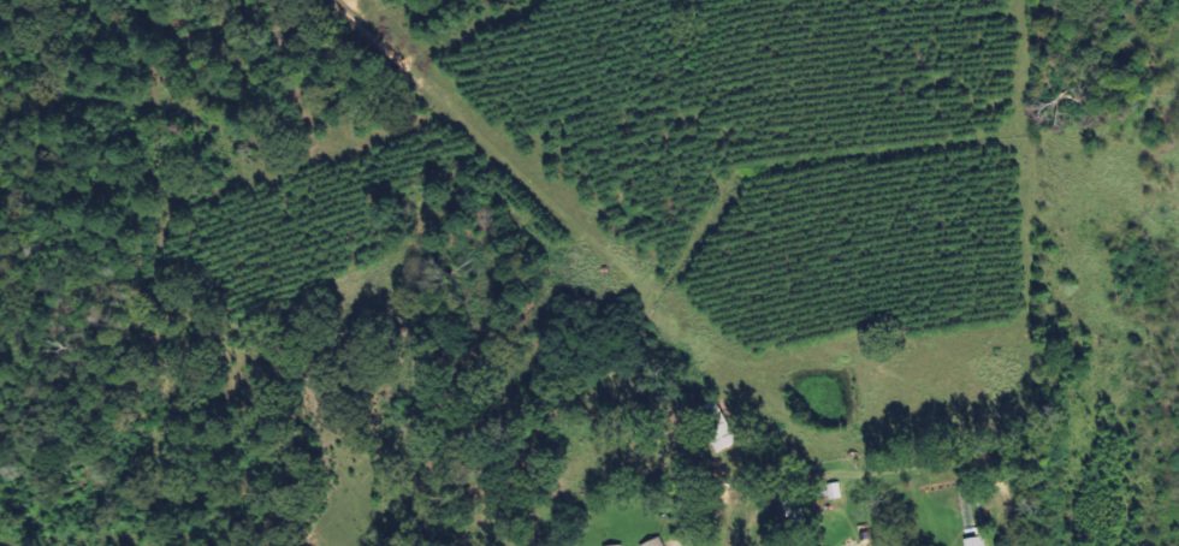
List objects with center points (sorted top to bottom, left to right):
building: (716, 425)
building: (654, 541)
building: (615, 545)

